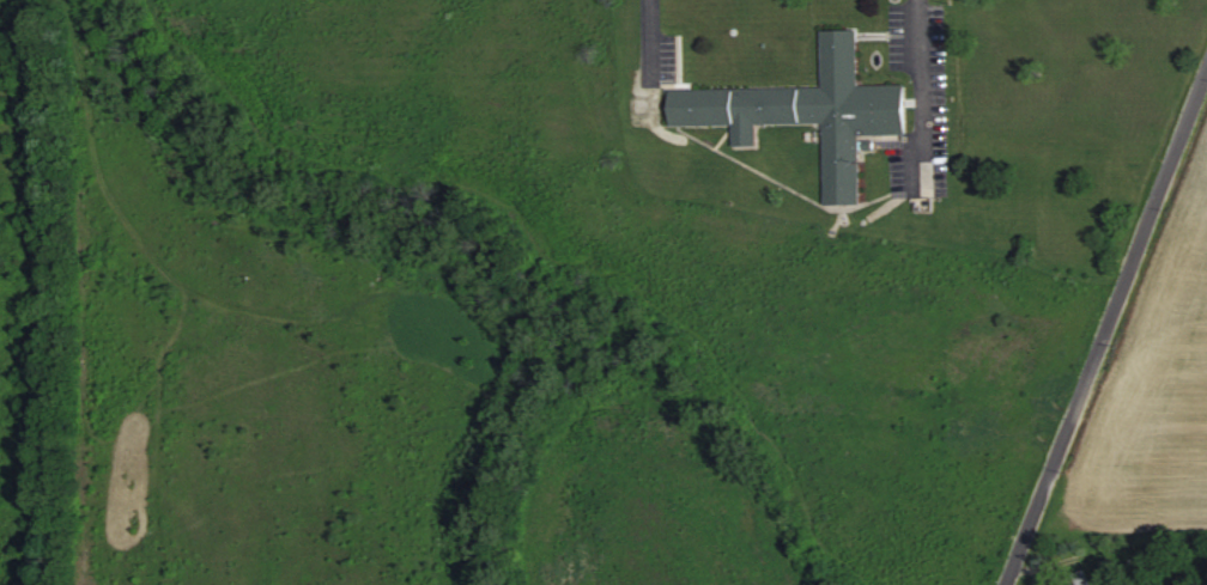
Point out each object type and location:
road: (651, 36)
road: (922, 79)
building: (809, 111)
road: (1108, 322)
building: (1081, 577)

